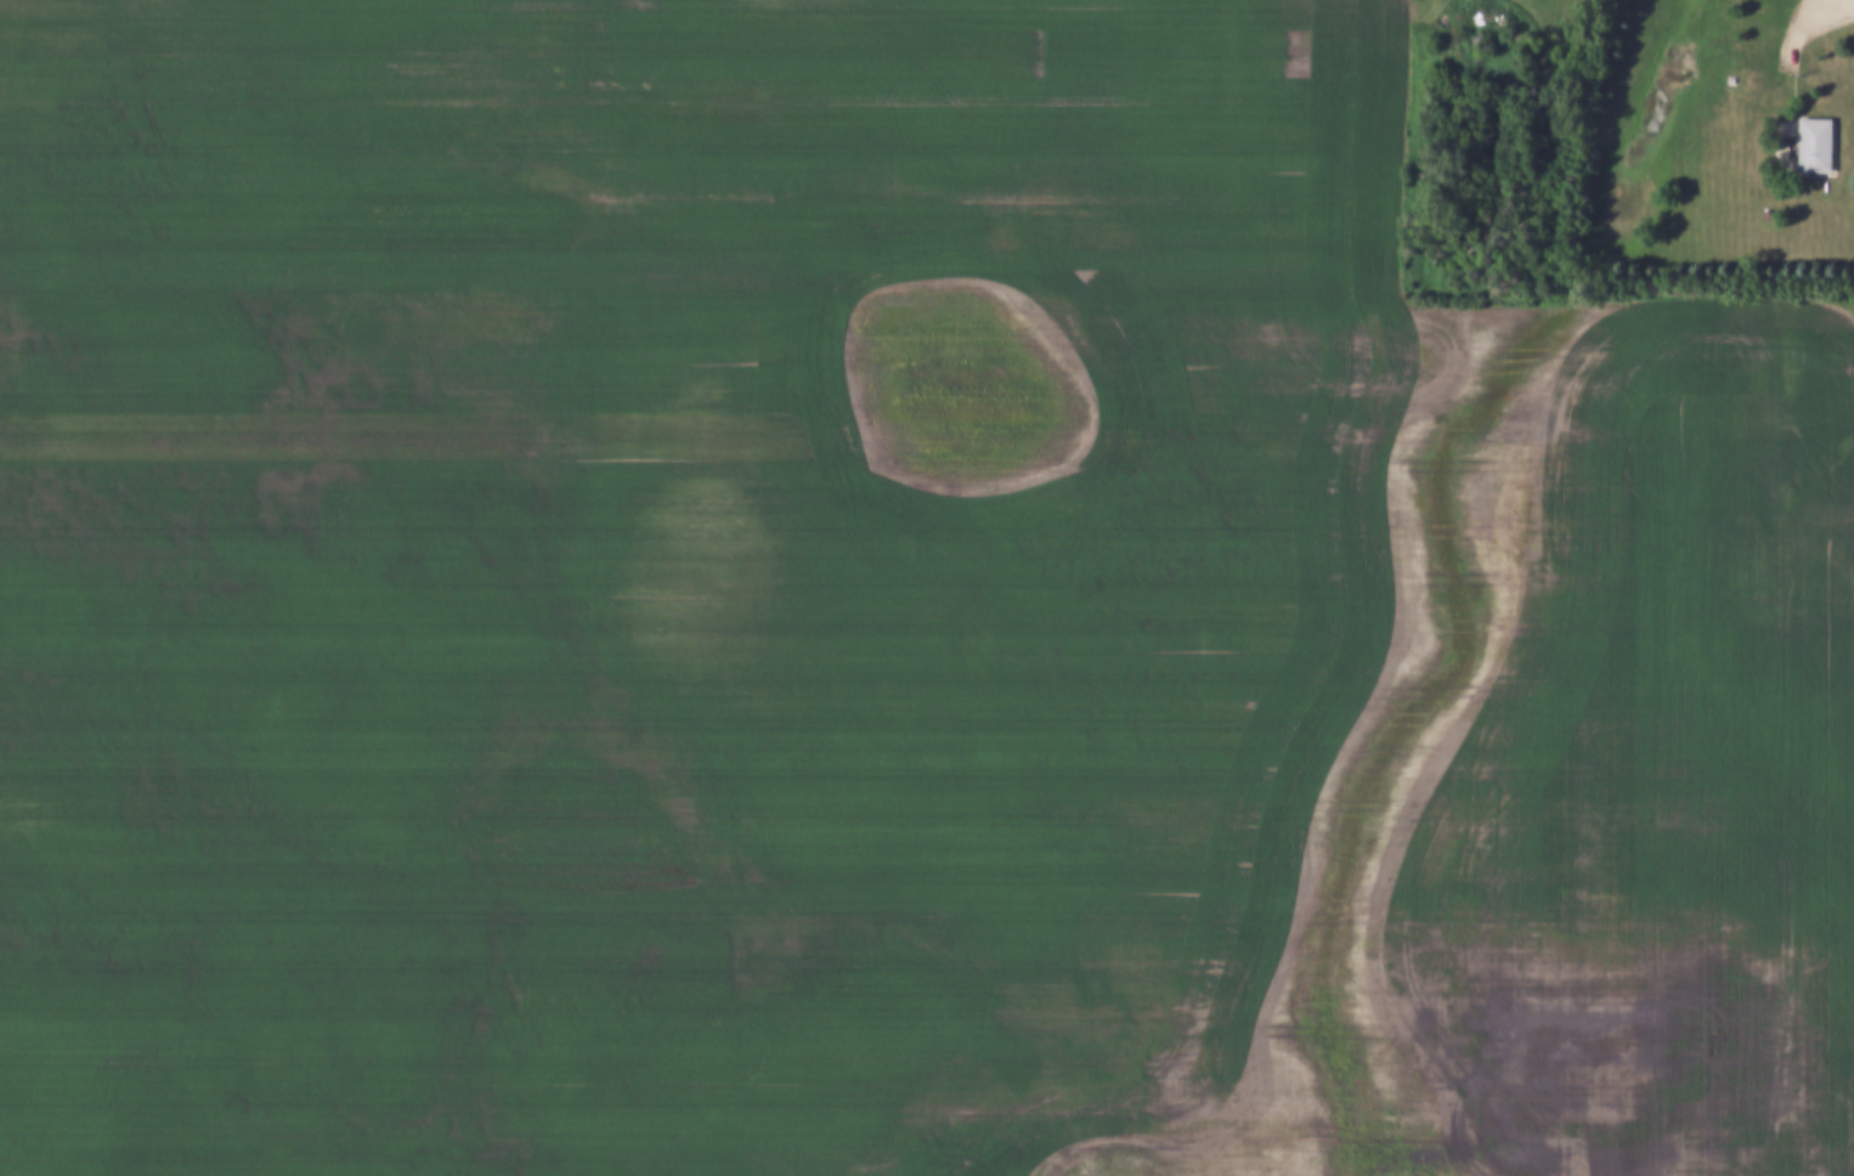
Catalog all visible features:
road: (1792, 30)
building: (1816, 148)

